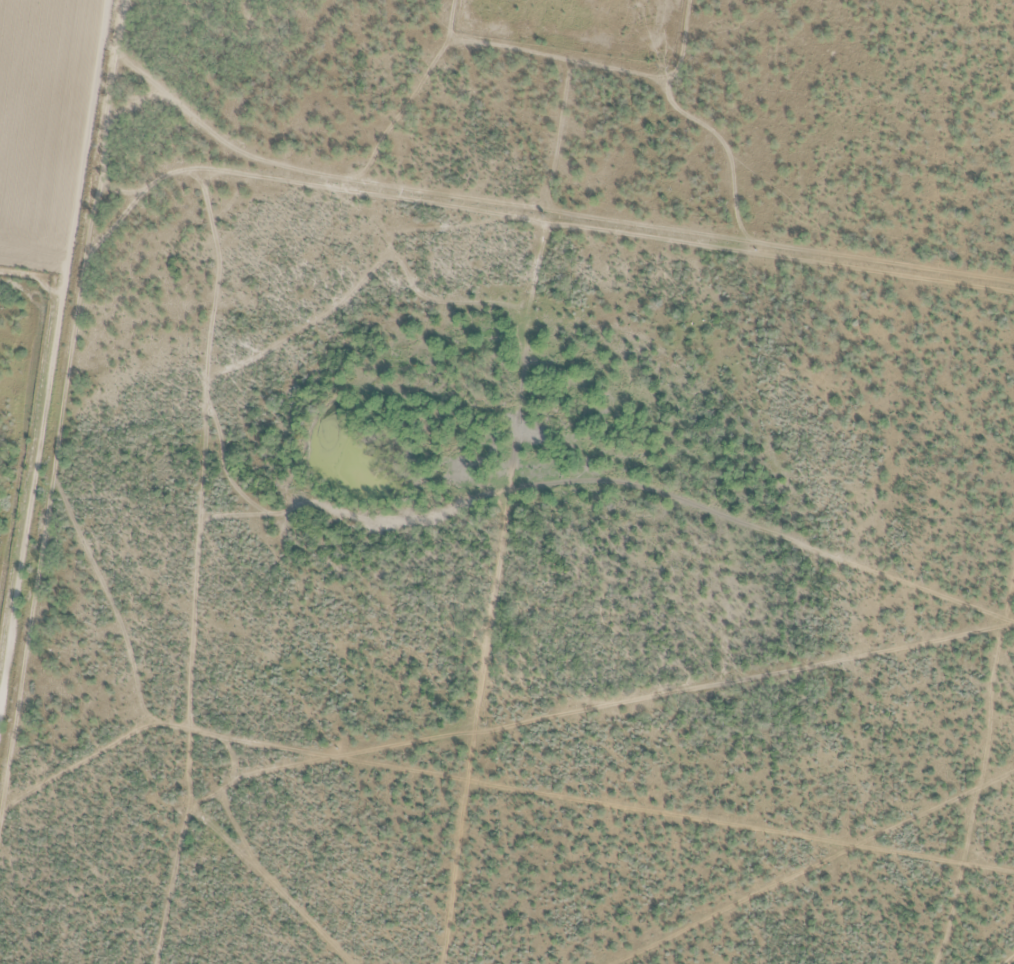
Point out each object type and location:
road: (13, 381)
road: (919, 881)

